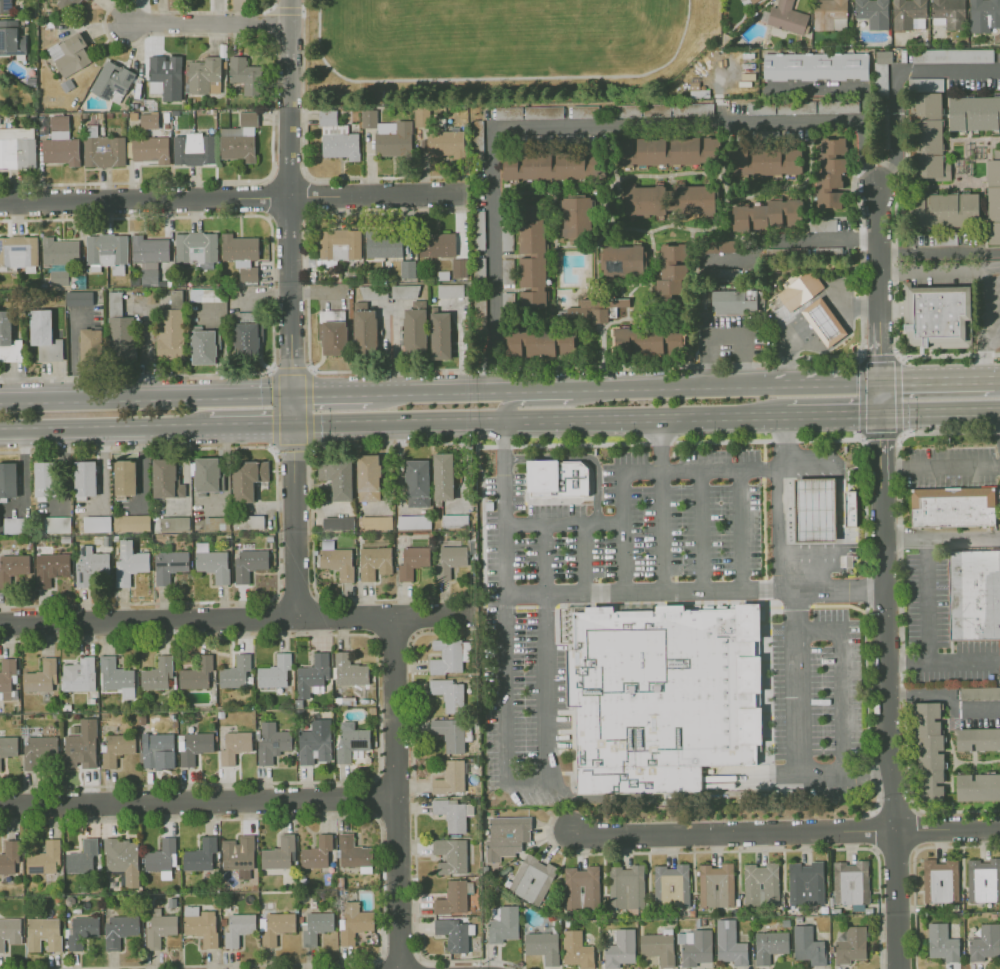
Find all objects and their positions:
building: (87, 0)
building: (754, 1)
building: (69, 5)
building: (6, 6)
road: (285, 9)
building: (873, 13)
building: (949, 13)
building: (909, 14)
building: (830, 15)
building: (984, 15)
building: (788, 18)
road: (268, 22)
building: (51, 25)
road: (210, 25)
building: (13, 38)
road: (274, 55)
building: (952, 56)
building: (70, 58)
building: (815, 66)
building: (881, 72)
building: (2, 73)
building: (207, 74)
building: (248, 76)
building: (166, 77)
building: (0, 79)
road: (897, 80)
building: (32, 81)
building: (113, 82)
building: (925, 84)
road: (832, 88)
building: (818, 107)
building: (584, 111)
building: (529, 112)
building: (974, 113)
building: (422, 117)
building: (327, 118)
building: (370, 119)
building: (149, 121)
building: (929, 123)
road: (579, 125)
building: (393, 146)
building: (446, 146)
building: (341, 147)
building: (238, 149)
building: (151, 150)
building: (194, 150)
building: (61, 151)
building: (669, 151)
building: (105, 152)
building: (17, 153)
building: (765, 162)
road: (305, 166)
building: (553, 166)
building: (933, 168)
building: (829, 169)
road: (288, 184)
road: (375, 196)
building: (993, 197)
building: (693, 199)
road: (144, 200)
building: (646, 201)
building: (944, 210)
building: (767, 214)
building: (577, 217)
building: (479, 229)
building: (506, 237)
road: (788, 241)
building: (384, 244)
building: (340, 245)
building: (438, 245)
building: (240, 246)
building: (723, 246)
building: (149, 247)
building: (106, 248)
building: (197, 248)
building: (61, 249)
building: (18, 251)
road: (939, 251)
road: (878, 252)
building: (532, 256)
building: (623, 259)
road: (993, 265)
road: (932, 267)
building: (460, 269)
building: (671, 269)
building: (408, 270)
building: (507, 271)
building: (723, 275)
building: (59, 278)
building: (799, 289)
building: (405, 291)
building: (451, 291)
building: (374, 292)
building: (202, 294)
road: (273, 295)
building: (78, 298)
building: (733, 301)
road: (841, 301)
building: (508, 302)
building: (601, 308)
road: (855, 308)
road: (815, 312)
building: (936, 314)
building: (480, 316)
building: (822, 322)
road: (986, 323)
building: (170, 324)
road: (797, 329)
building: (119, 330)
road: (828, 330)
building: (415, 332)
building: (365, 333)
building: (44, 335)
building: (441, 336)
building: (335, 338)
building: (8, 339)
building: (248, 340)
building: (648, 341)
building: (531, 342)
building: (567, 343)
building: (91, 346)
building: (204, 347)
road: (786, 348)
road: (147, 350)
road: (878, 351)
road: (75, 354)
road: (948, 354)
road: (860, 357)
traffic signals: (880, 359)
traffic signals: (292, 368)
road: (270, 369)
traffic signals: (900, 380)
road: (935, 380)
road: (997, 380)
road: (829, 382)
road: (699, 387)
road: (608, 389)
road: (483, 392)
road: (878, 396)
road: (329, 397)
traffic signals: (314, 398)
road: (546, 401)
road: (145, 402)
road: (939, 411)
road: (832, 413)
traffic signals: (858, 413)
road: (643, 417)
road: (397, 420)
road: (250, 423)
traffic signals: (272, 423)
road: (104, 425)
traffic signals: (879, 438)
road: (660, 443)
road: (310, 445)
road: (337, 448)
road: (272, 449)
road: (879, 450)
traffic signals: (292, 451)
road: (581, 457)
road: (939, 468)
road: (644, 472)
building: (206, 475)
building: (368, 477)
building: (443, 477)
building: (85, 478)
building: (124, 478)
building: (247, 478)
building: (8, 479)
building: (43, 479)
building: (165, 479)
building: (337, 479)
building: (559, 479)
building: (417, 482)
road: (293, 492)
road: (784, 502)
road: (662, 504)
building: (849, 509)
building: (956, 509)
building: (817, 510)
gas station: (817, 510)
road: (815, 513)
building: (454, 520)
building: (248, 521)
building: (131, 522)
building: (173, 522)
building: (375, 522)
building: (413, 522)
building: (96, 523)
building: (337, 523)
building: (15, 524)
building: (56, 524)
road: (564, 525)
road: (277, 526)
road: (741, 530)
road: (702, 531)
road: (941, 538)
road: (585, 558)
building: (336, 559)
building: (450, 559)
building: (412, 561)
building: (129, 562)
building: (211, 562)
building: (374, 562)
building: (249, 564)
building: (169, 565)
building: (89, 566)
road: (763, 566)
building: (12, 567)
building: (49, 568)
road: (695, 591)
building: (978, 597)
road: (651, 604)
road: (554, 605)
road: (816, 605)
road: (901, 614)
road: (235, 619)
road: (927, 621)
building: (449, 655)
road: (963, 661)
building: (349, 670)
building: (274, 671)
building: (235, 672)
building: (78, 674)
building: (157, 674)
building: (196, 674)
building: (311, 675)
building: (6, 677)
building: (40, 677)
building: (116, 677)
road: (840, 683)
building: (979, 693)
building: (448, 694)
road: (766, 694)
road: (945, 695)
building: (662, 700)
road: (799, 728)
road: (887, 728)
building: (449, 733)
building: (977, 739)
building: (350, 740)
building: (271, 742)
building: (314, 742)
building: (8, 746)
building: (81, 746)
building: (234, 746)
building: (192, 747)
building: (117, 748)
building: (153, 748)
building: (38, 749)
road: (506, 752)
building: (929, 752)
building: (450, 778)
building: (978, 787)
road: (393, 793)
road: (197, 803)
building: (452, 813)
road: (787, 830)
building: (506, 836)
road: (414, 839)
building: (352, 851)
building: (316, 852)
building: (279, 853)
building: (200, 854)
building: (451, 854)
building: (238, 855)
building: (9, 856)
building: (82, 857)
building: (161, 857)
building: (44, 858)
building: (122, 860)
road: (913, 866)
building: (531, 879)
building: (983, 879)
building: (939, 880)
building: (805, 882)
building: (850, 882)
building: (760, 884)
building: (671, 885)
building: (715, 885)
building: (626, 886)
building: (580, 887)
building: (454, 897)
building: (353, 922)
building: (200, 924)
building: (502, 924)
building: (275, 926)
building: (315, 926)
building: (159, 928)
building: (238, 928)
building: (119, 929)
building: (81, 931)
building: (9, 932)
building: (43, 933)
building: (453, 934)
building: (941, 942)
building: (985, 942)
building: (729, 943)
building: (769, 945)
building: (807, 945)
building: (851, 945)
building: (542, 946)
building: (694, 946)
building: (658, 947)
building: (620, 948)
building: (577, 950)

